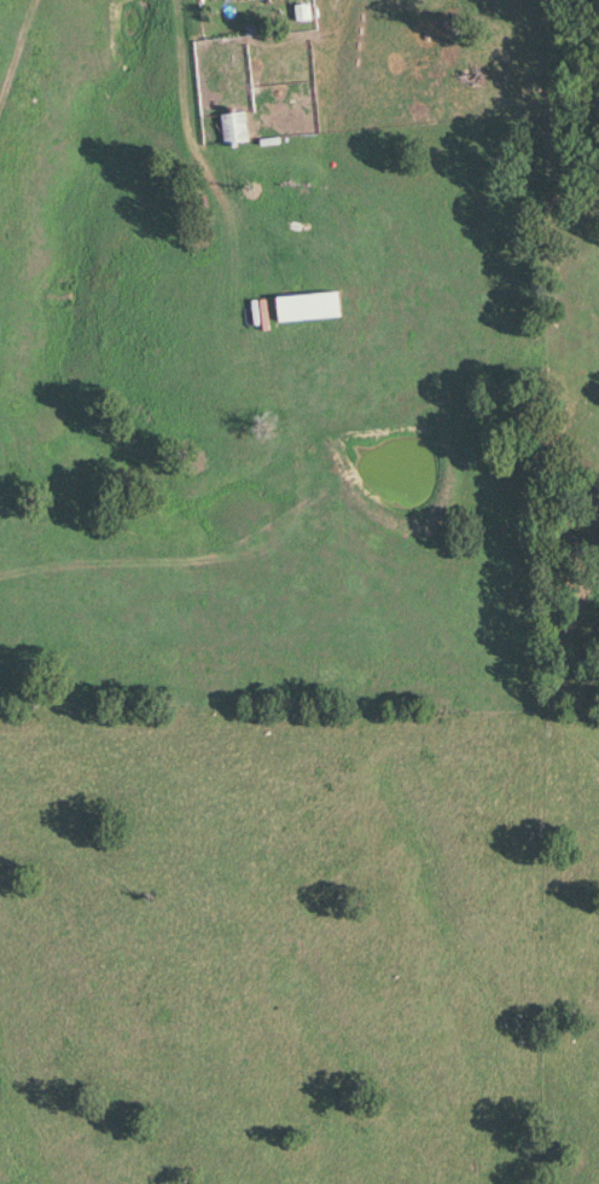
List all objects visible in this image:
building: (232, 129)

